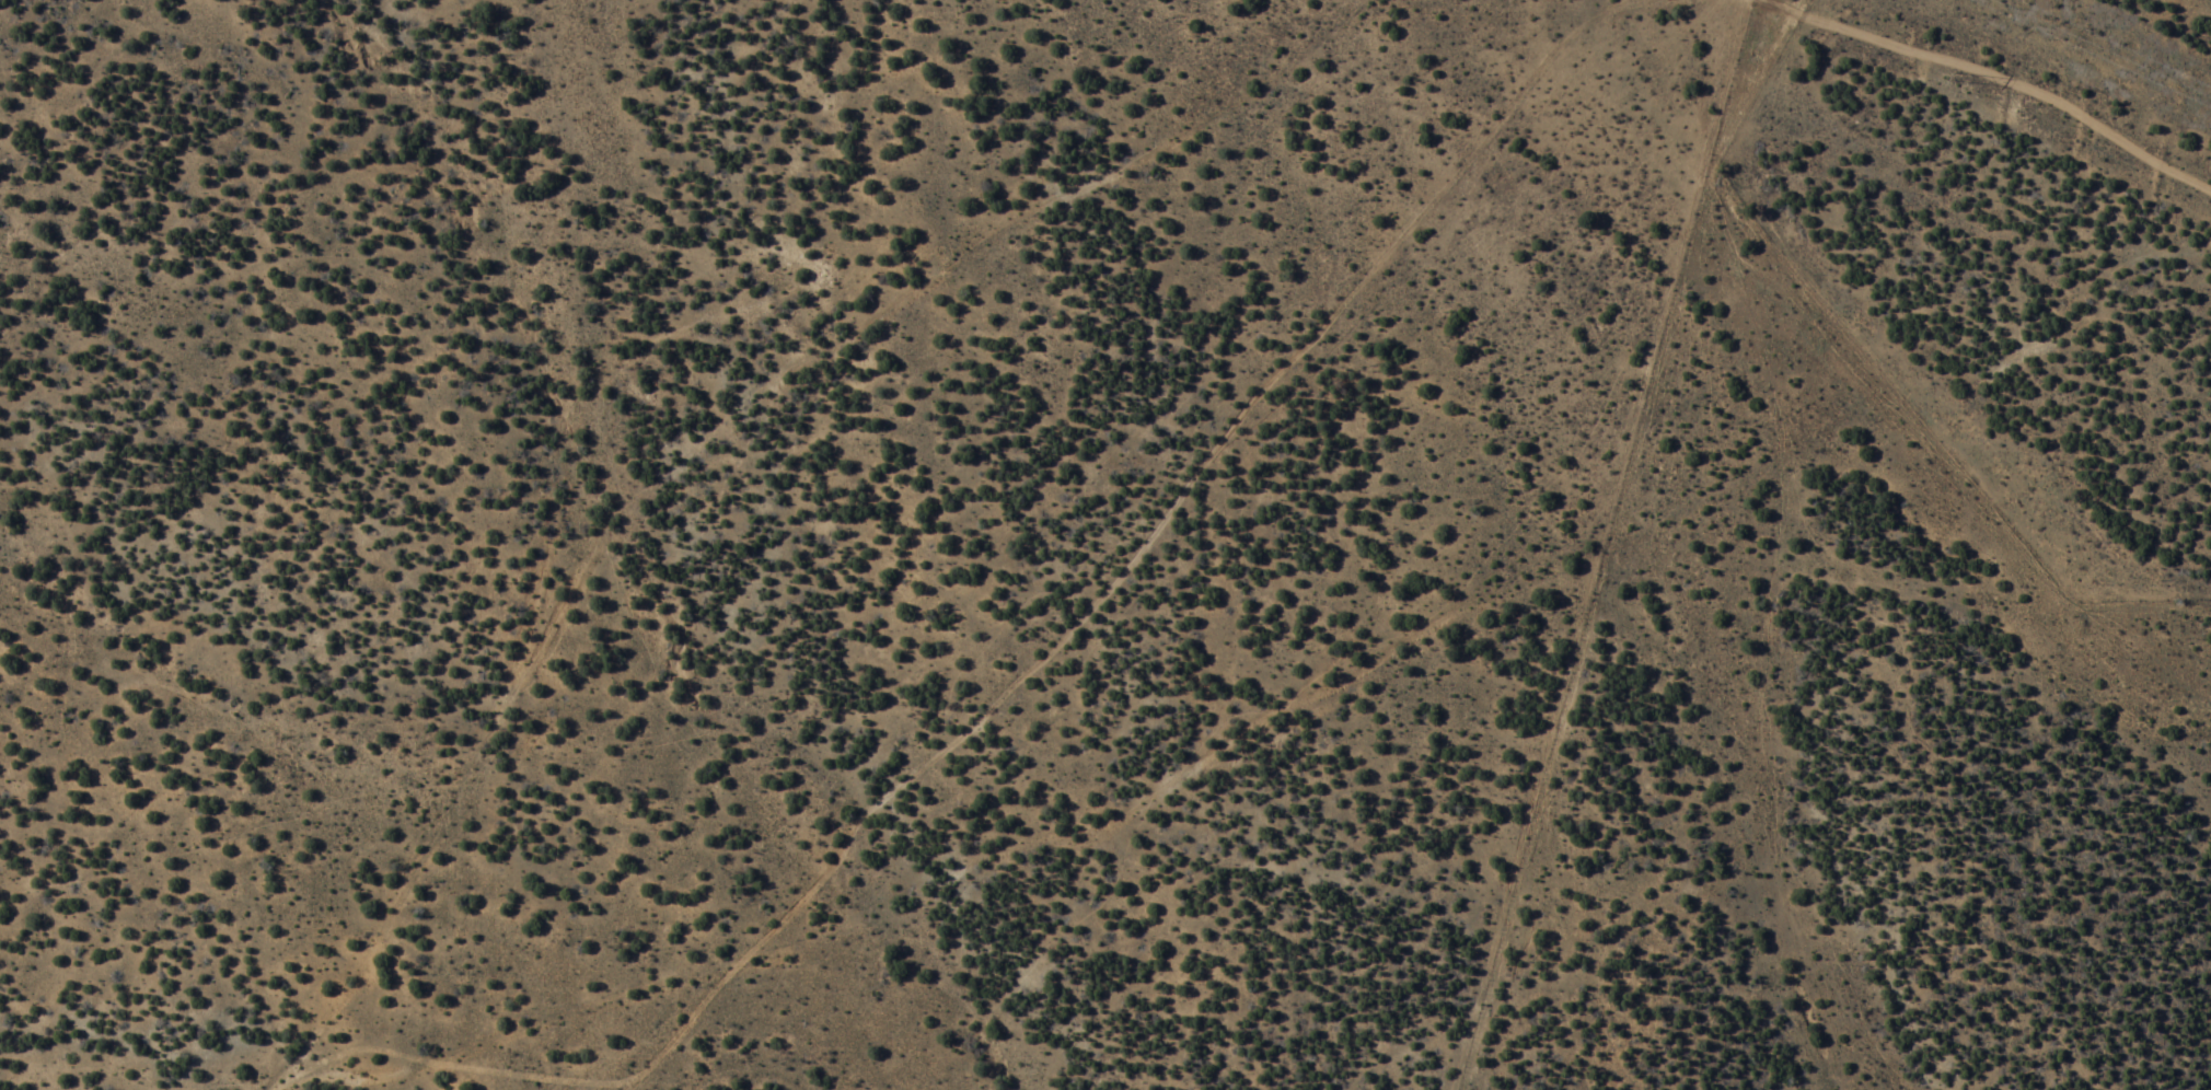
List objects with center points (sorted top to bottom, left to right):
road: (711, 441)
road: (1600, 545)

